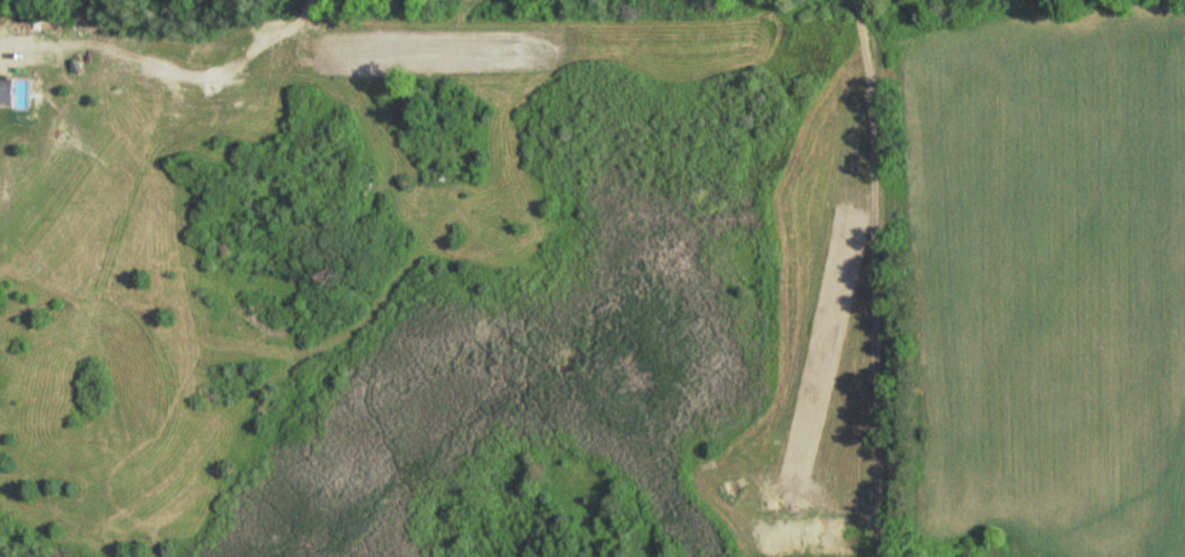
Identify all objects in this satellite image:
building: (8, 88)

